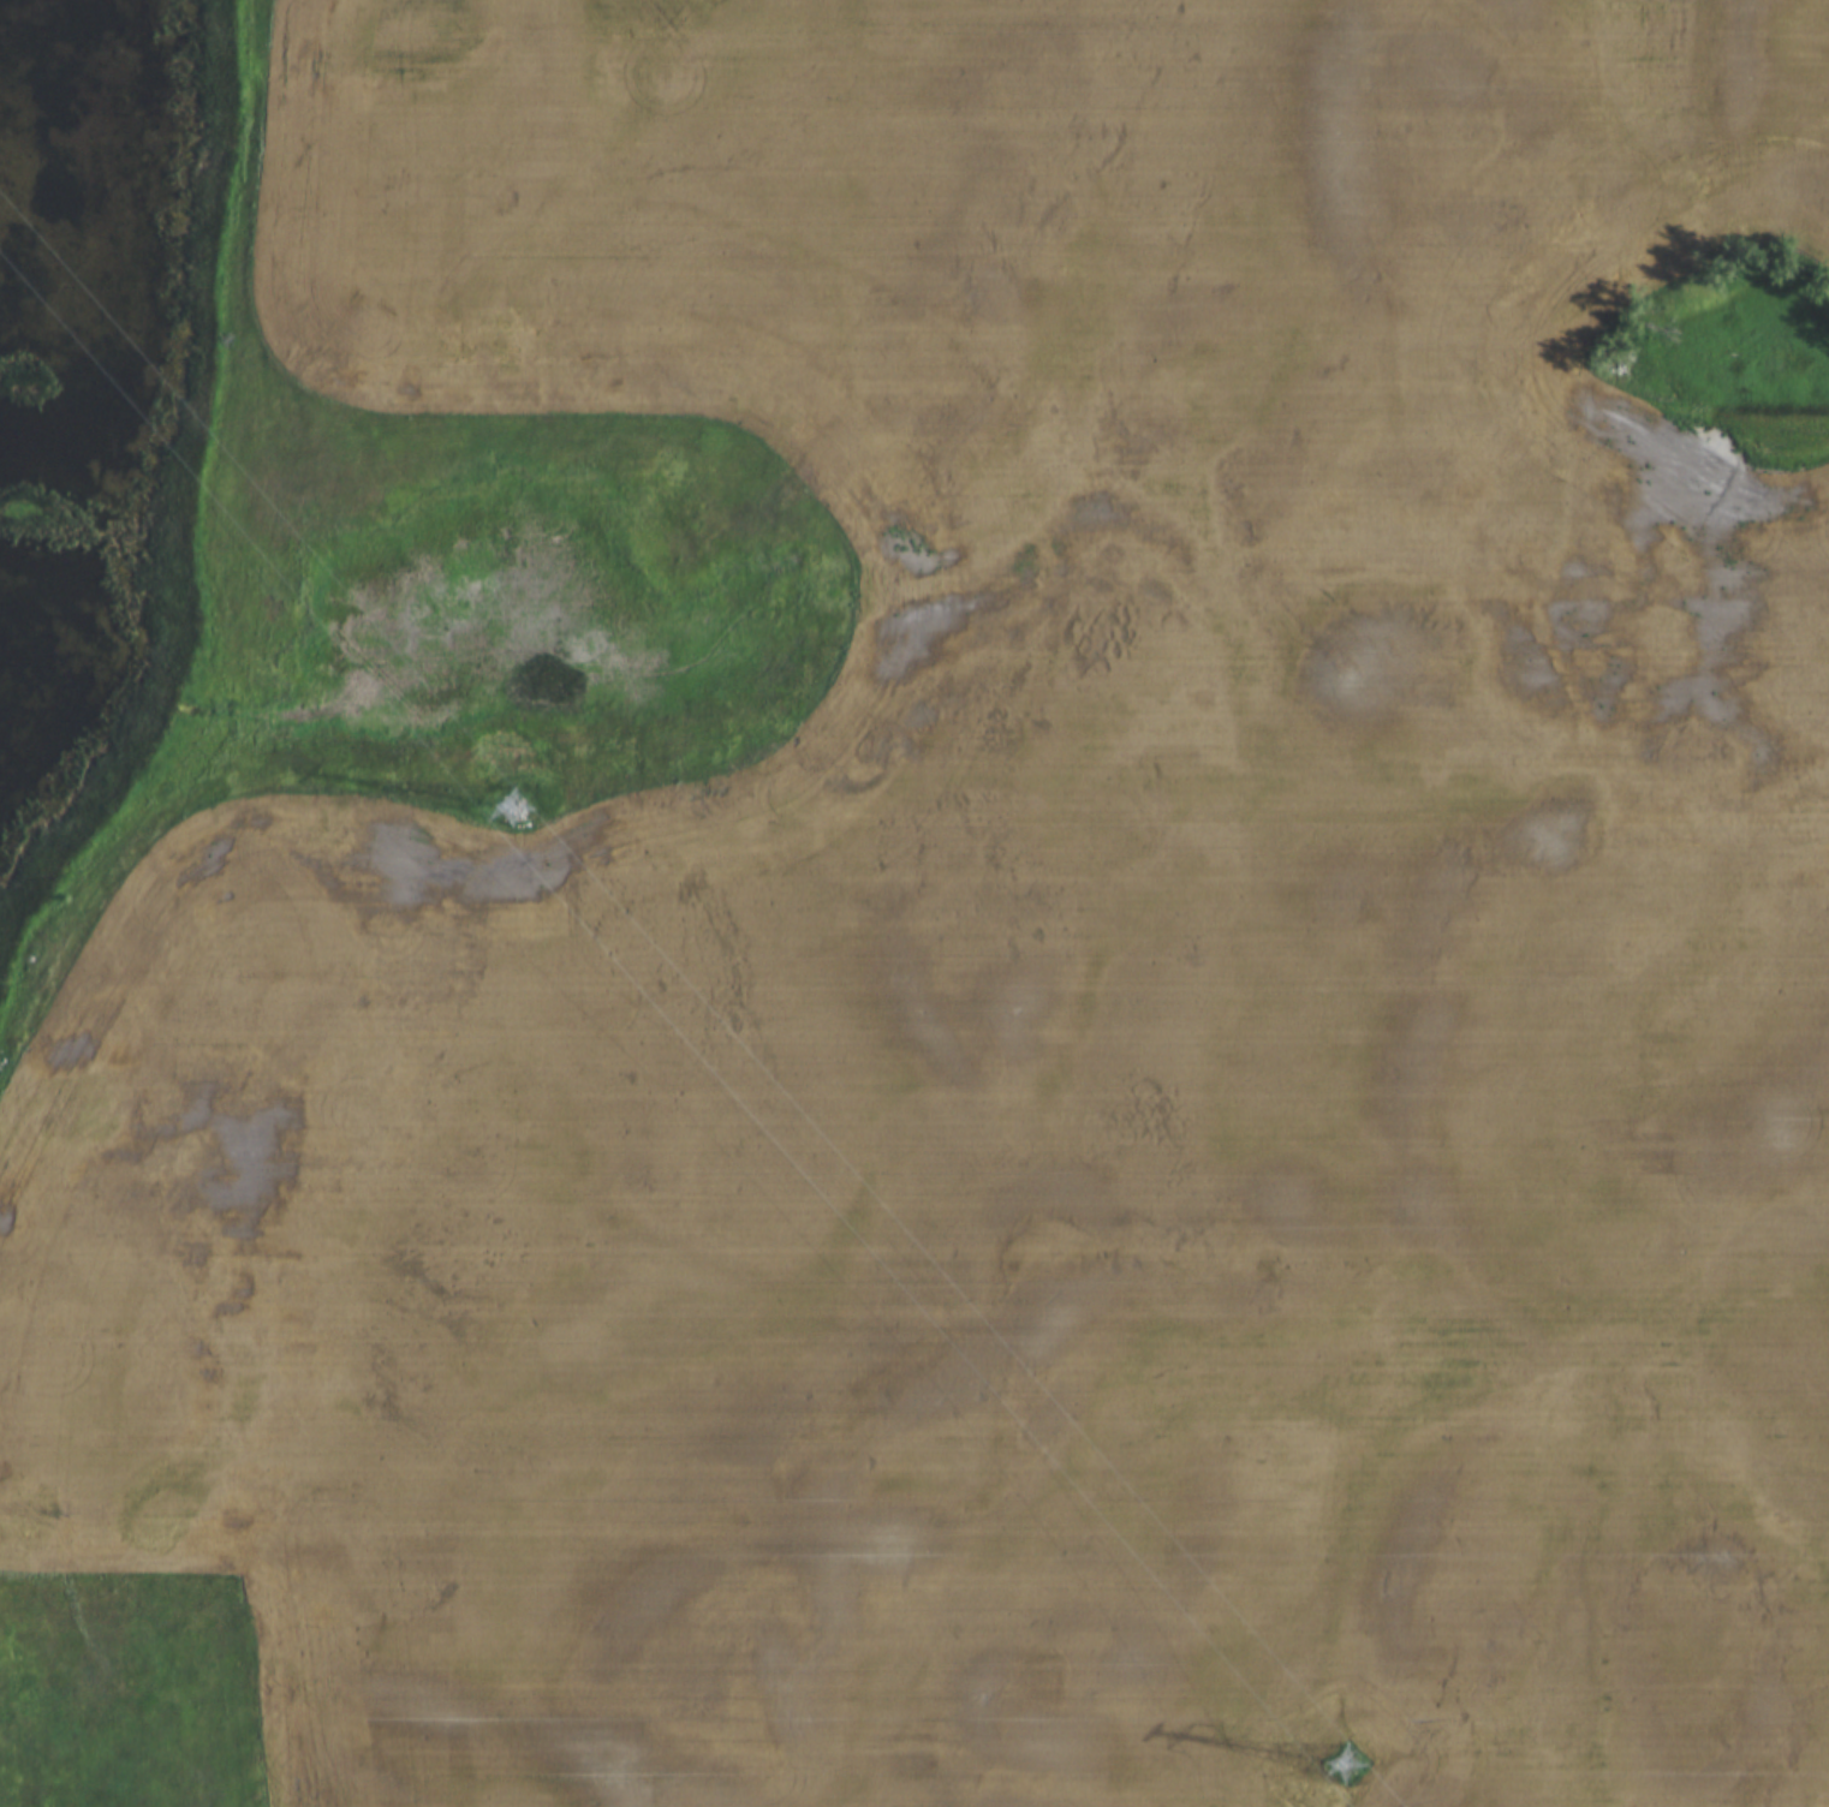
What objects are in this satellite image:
power tower: (519, 813)
power tower: (1353, 1769)

